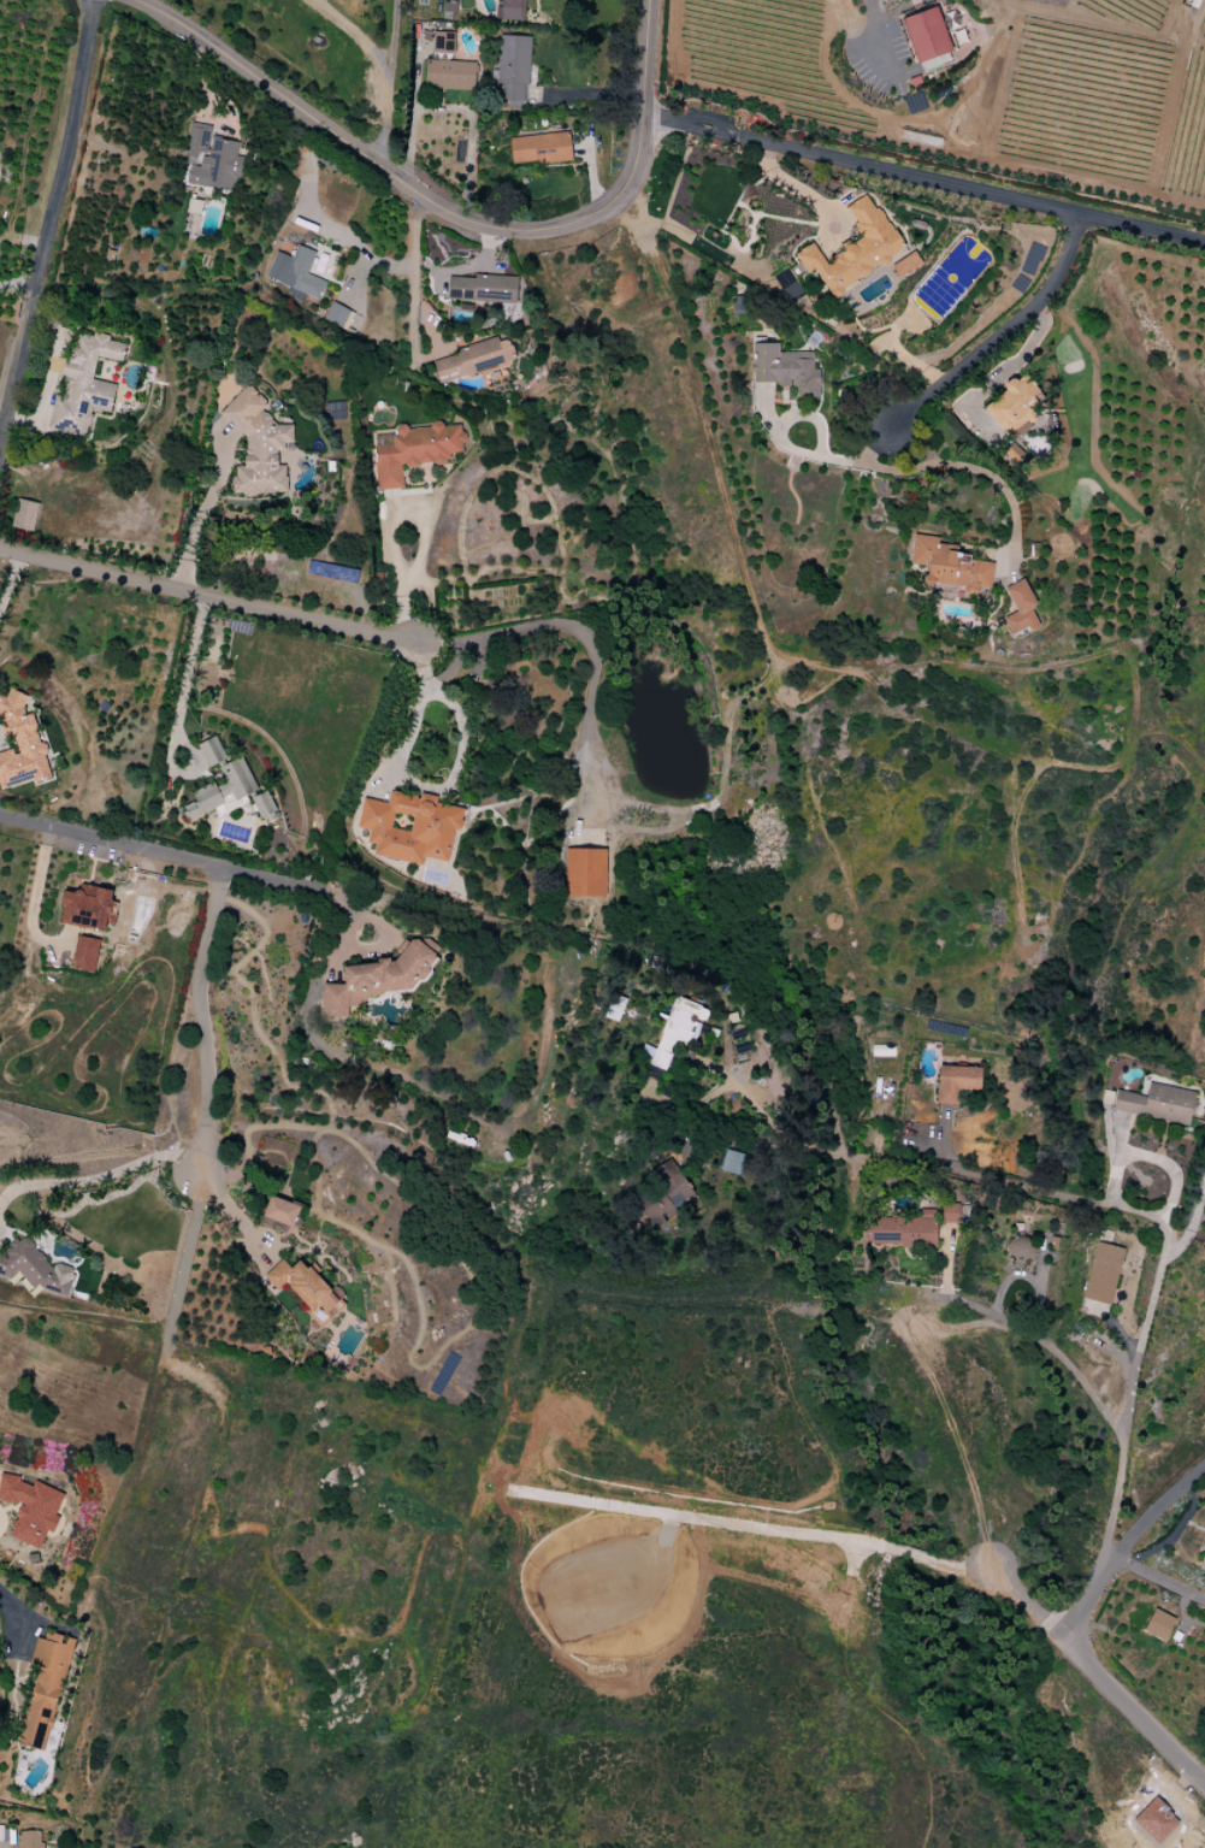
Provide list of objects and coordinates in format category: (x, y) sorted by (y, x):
building: (509, 11)
road: (355, 34)
building: (926, 34)
building: (442, 42)
road: (876, 46)
building: (513, 72)
building: (449, 75)
road: (390, 83)
road: (586, 95)
building: (539, 148)
building: (211, 159)
road: (923, 177)
road: (448, 213)
road: (47, 215)
building: (853, 248)
building: (295, 274)
road: (409, 278)
building: (483, 289)
building: (337, 315)
road: (999, 332)
building: (473, 359)
building: (785, 370)
building: (83, 384)
building: (1015, 405)
road: (779, 435)
building: (258, 445)
building: (413, 450)
road: (957, 465)
building: (24, 515)
road: (191, 537)
building: (951, 566)
road: (6, 571)
road: (208, 598)
building: (1018, 608)
road: (178, 719)
building: (19, 745)
building: (211, 751)
building: (221, 790)
road: (414, 792)
building: (262, 804)
building: (409, 827)
road: (182, 857)
building: (584, 873)
building: (88, 908)
building: (84, 953)
building: (379, 979)
road: (201, 1006)
building: (614, 1008)
building: (673, 1032)
building: (956, 1082)
building: (1156, 1104)
road: (326, 1139)
building: (733, 1163)
road: (909, 1164)
road: (98, 1179)
road: (226, 1205)
building: (280, 1211)
building: (951, 1214)
road: (1166, 1227)
building: (903, 1230)
building: (1020, 1248)
building: (34, 1268)
building: (1101, 1273)
building: (306, 1287)
road: (1097, 1401)
building: (30, 1508)
building: (1203, 1558)
road: (1159, 1576)
road: (1036, 1607)
road: (14, 1619)
road: (1080, 1625)
building: (1158, 1625)
building: (45, 1689)
building: (1154, 1820)
building: (31, 1841)

